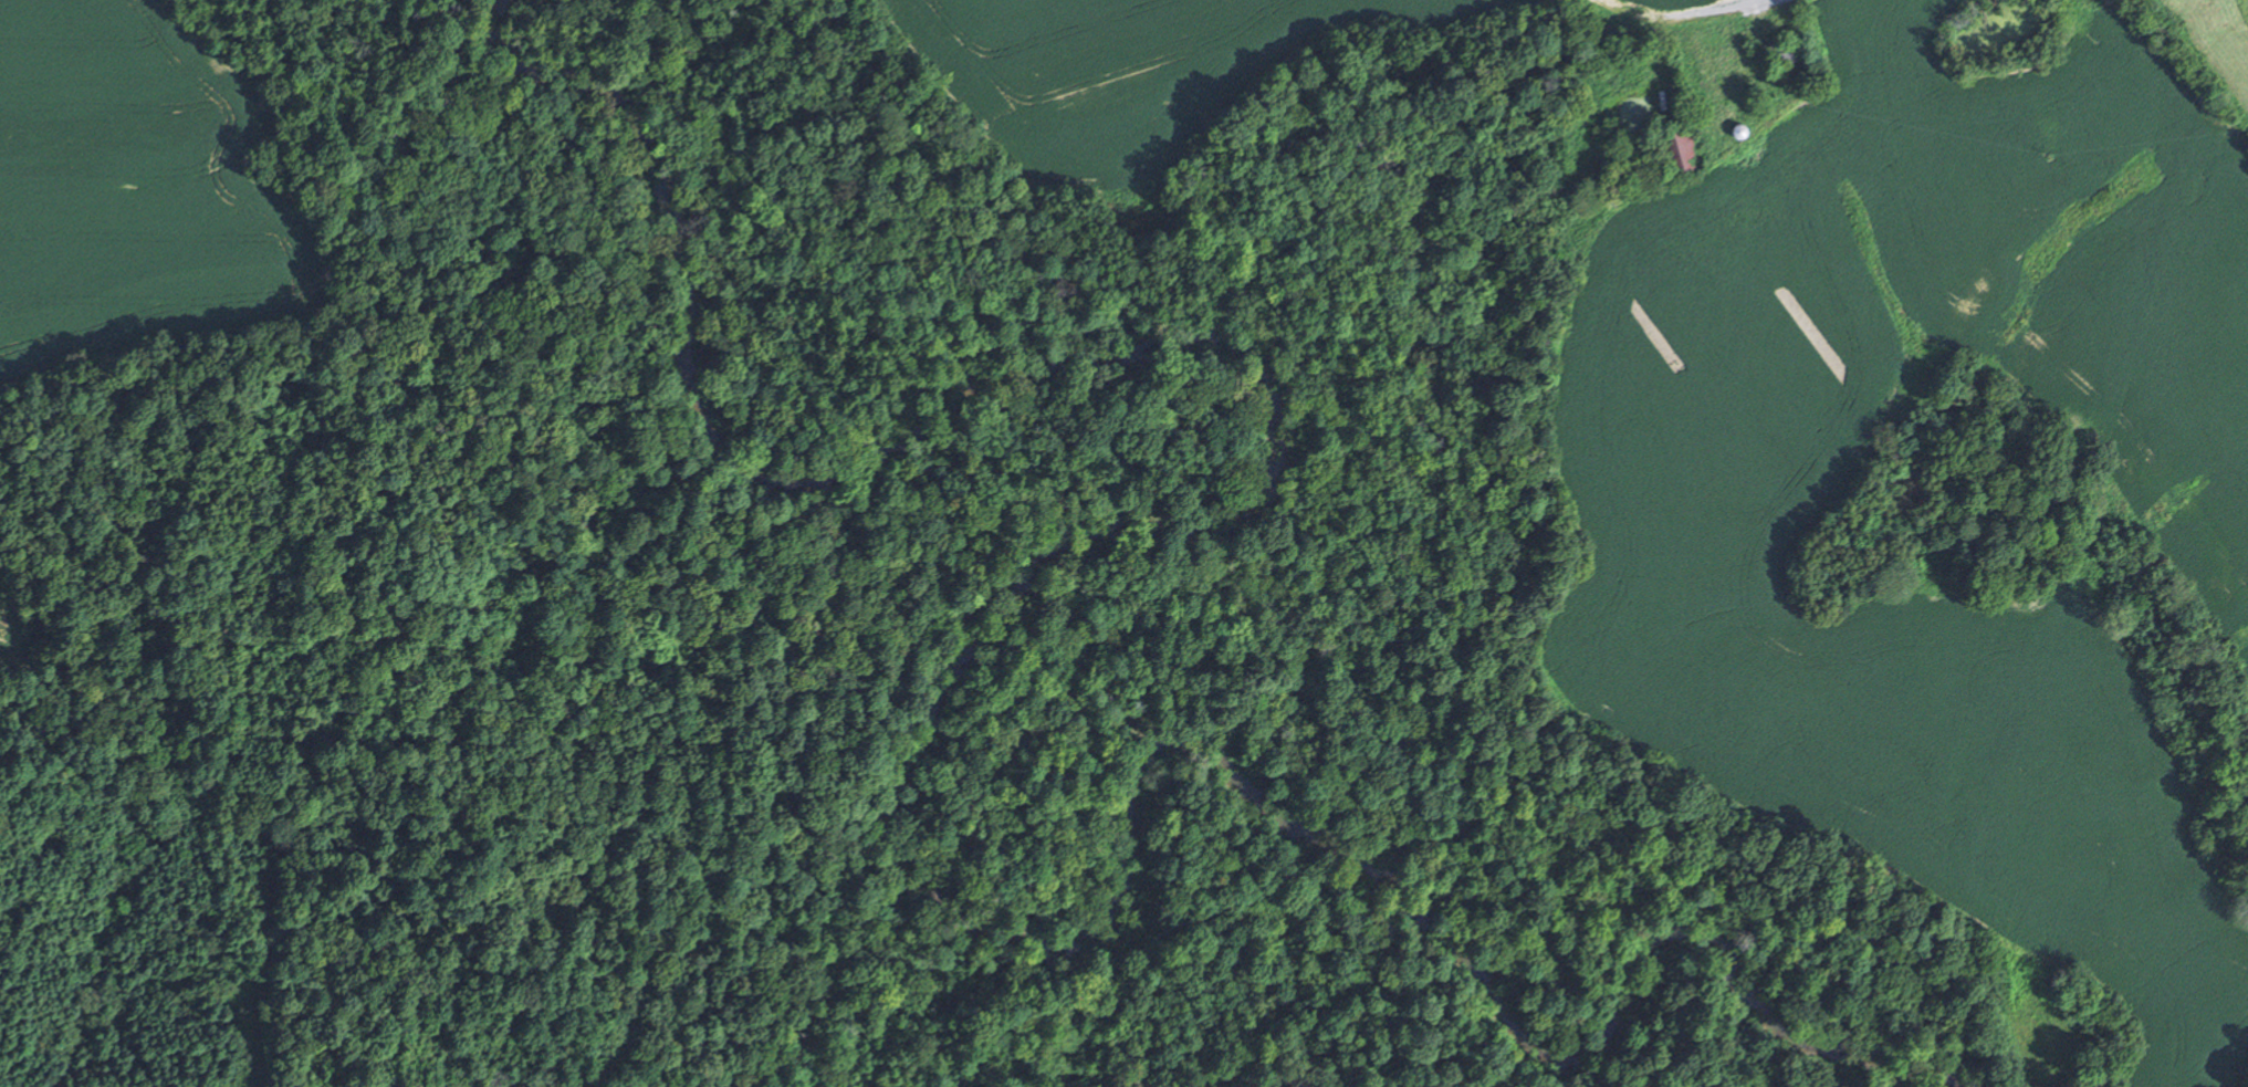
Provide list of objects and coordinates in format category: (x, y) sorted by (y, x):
road: (1777, 2)

